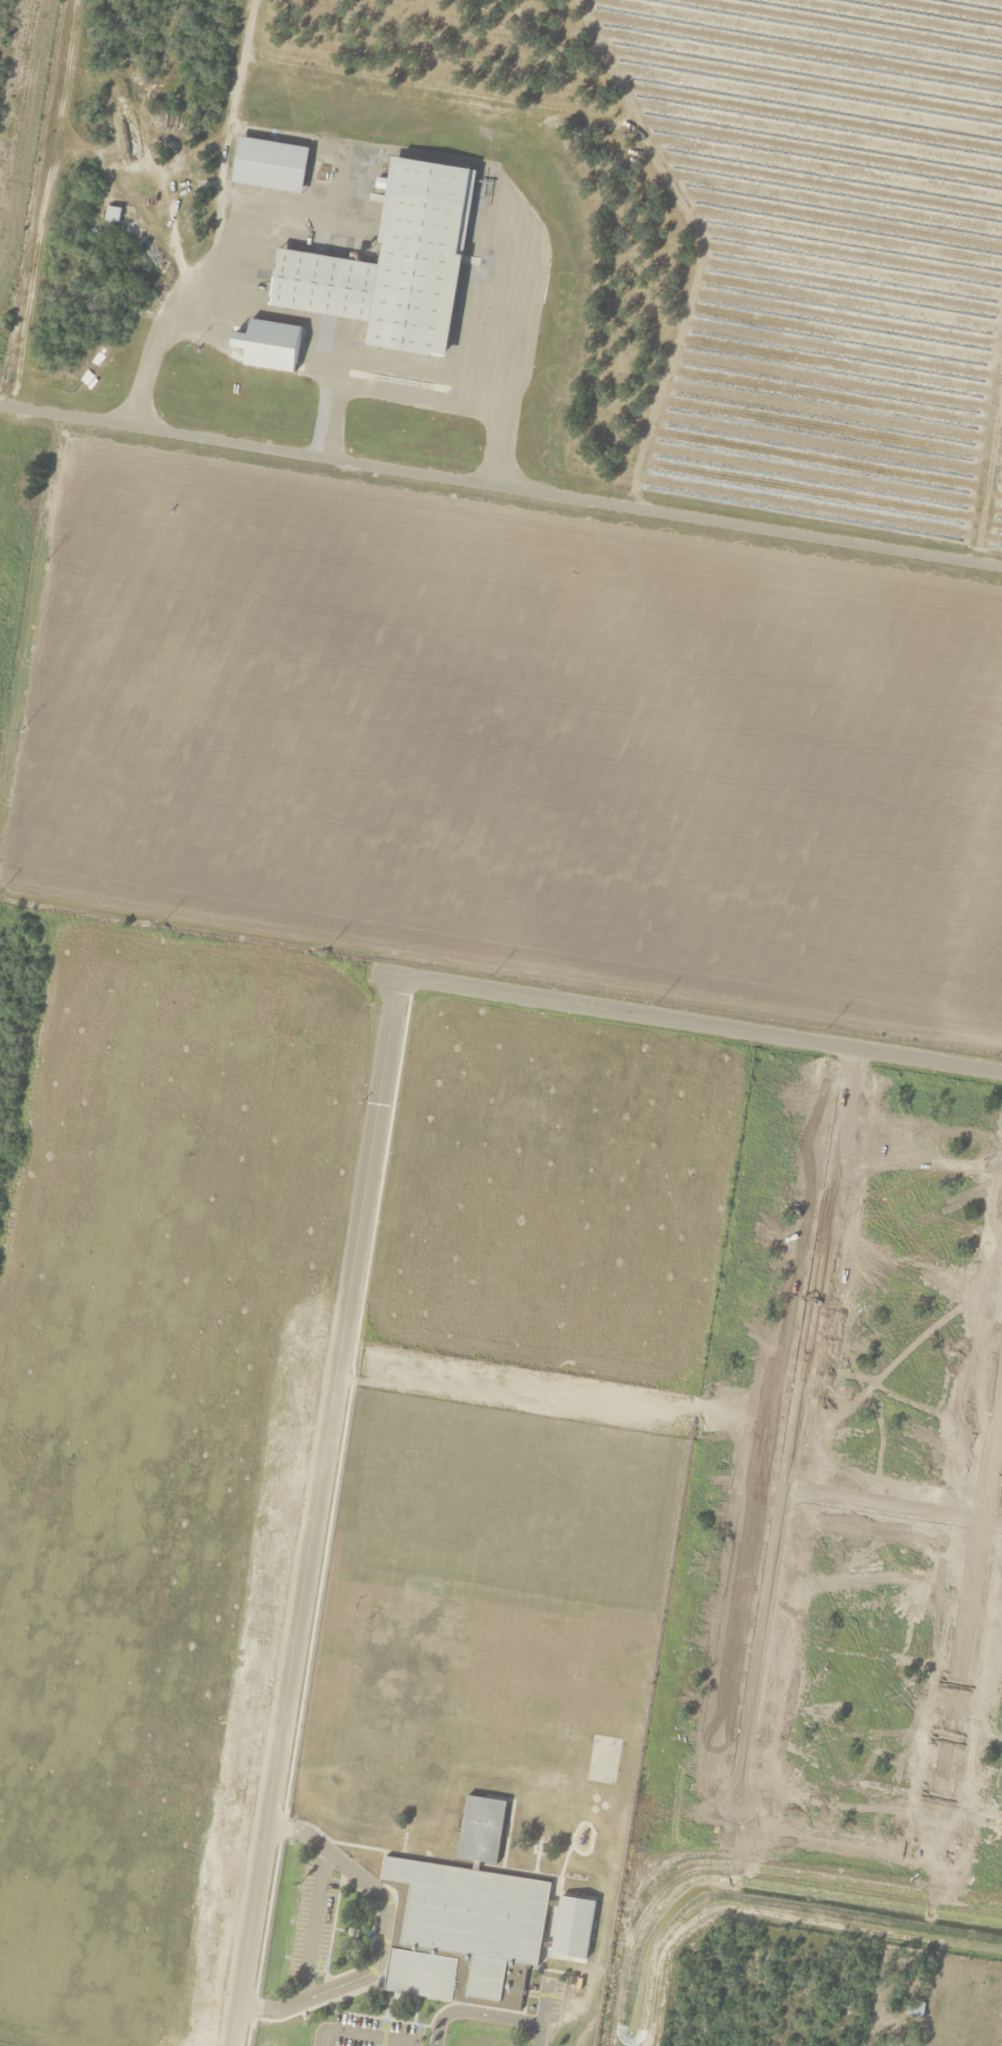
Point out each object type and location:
road: (21, 142)
building: (268, 166)
building: (111, 215)
building: (392, 265)
railway: (50, 334)
building: (268, 346)
railway: (501, 447)
road: (500, 493)
road: (357, 1207)
building: (463, 1916)
road: (309, 1920)
building: (571, 1928)
road: (380, 1931)
road: (541, 2001)
road: (471, 2011)
road: (369, 2031)
road: (536, 2034)
road: (320, 2035)

